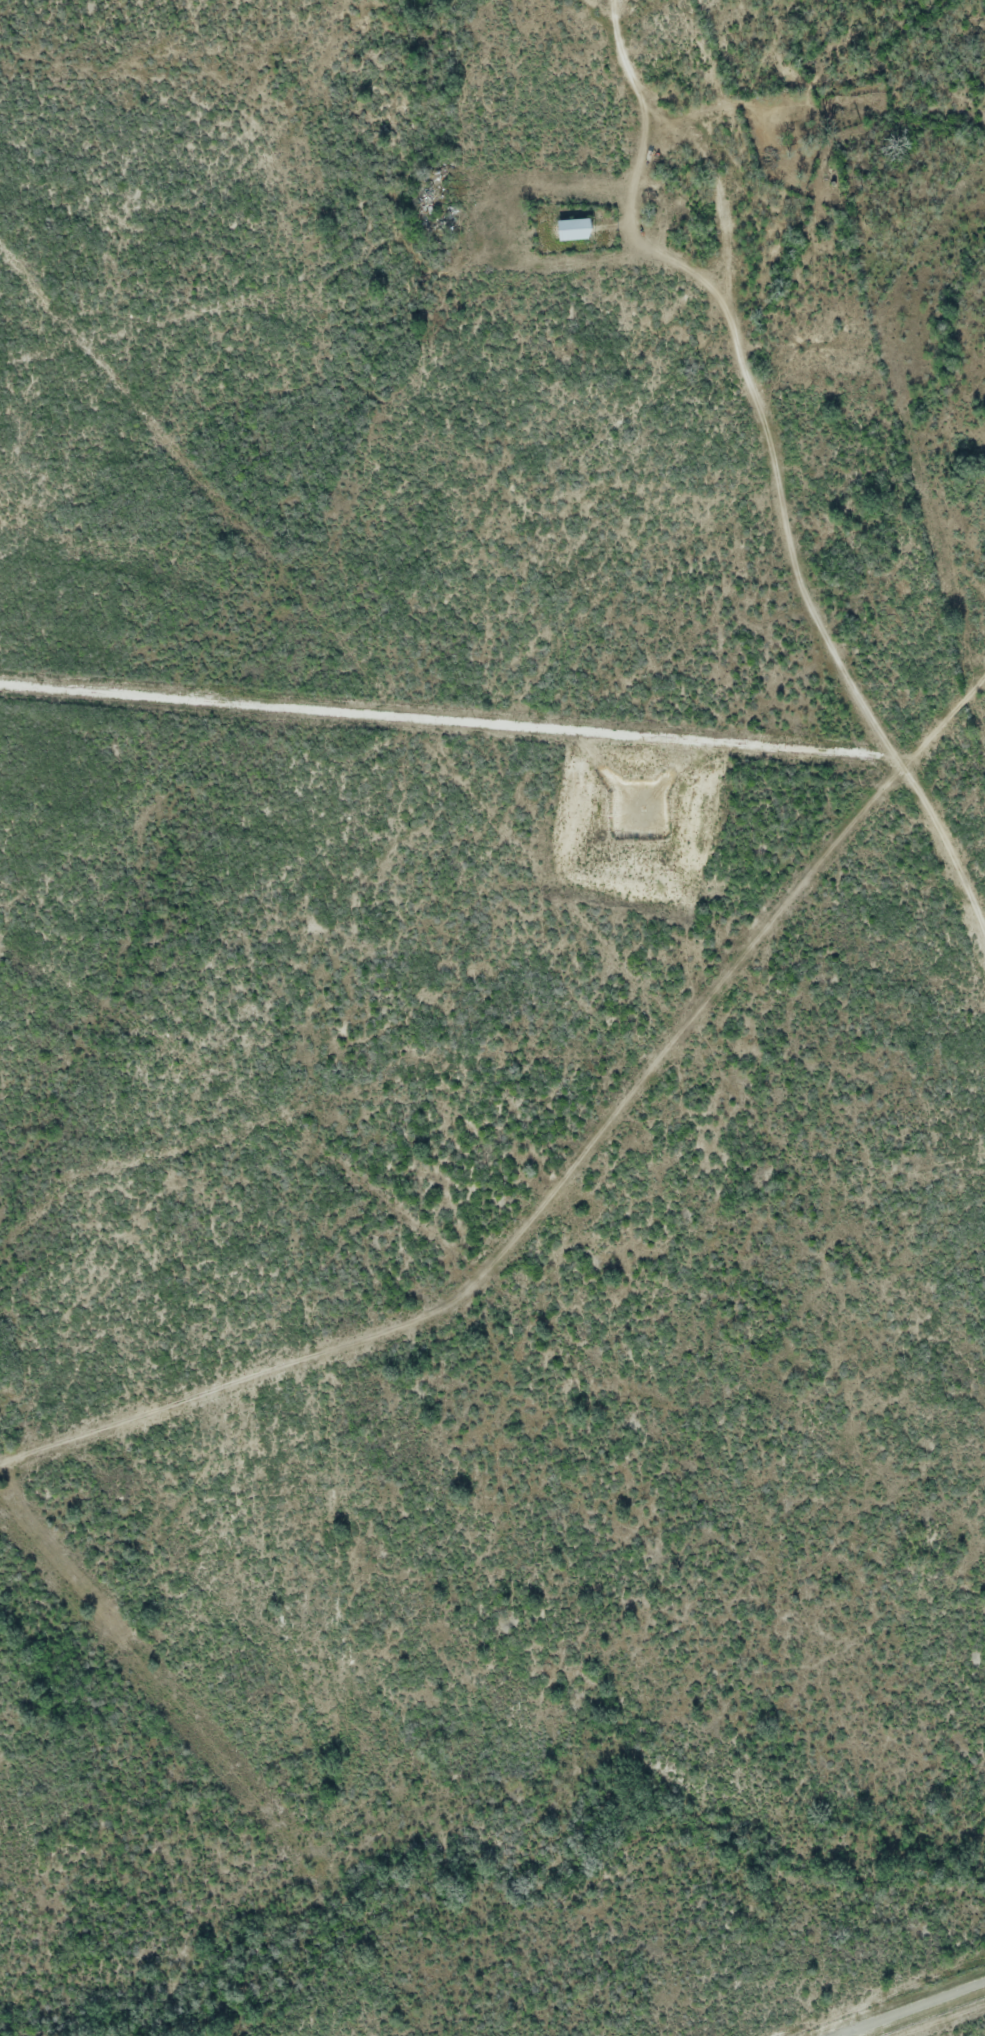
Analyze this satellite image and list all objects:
building: (576, 228)
road: (915, 2009)

